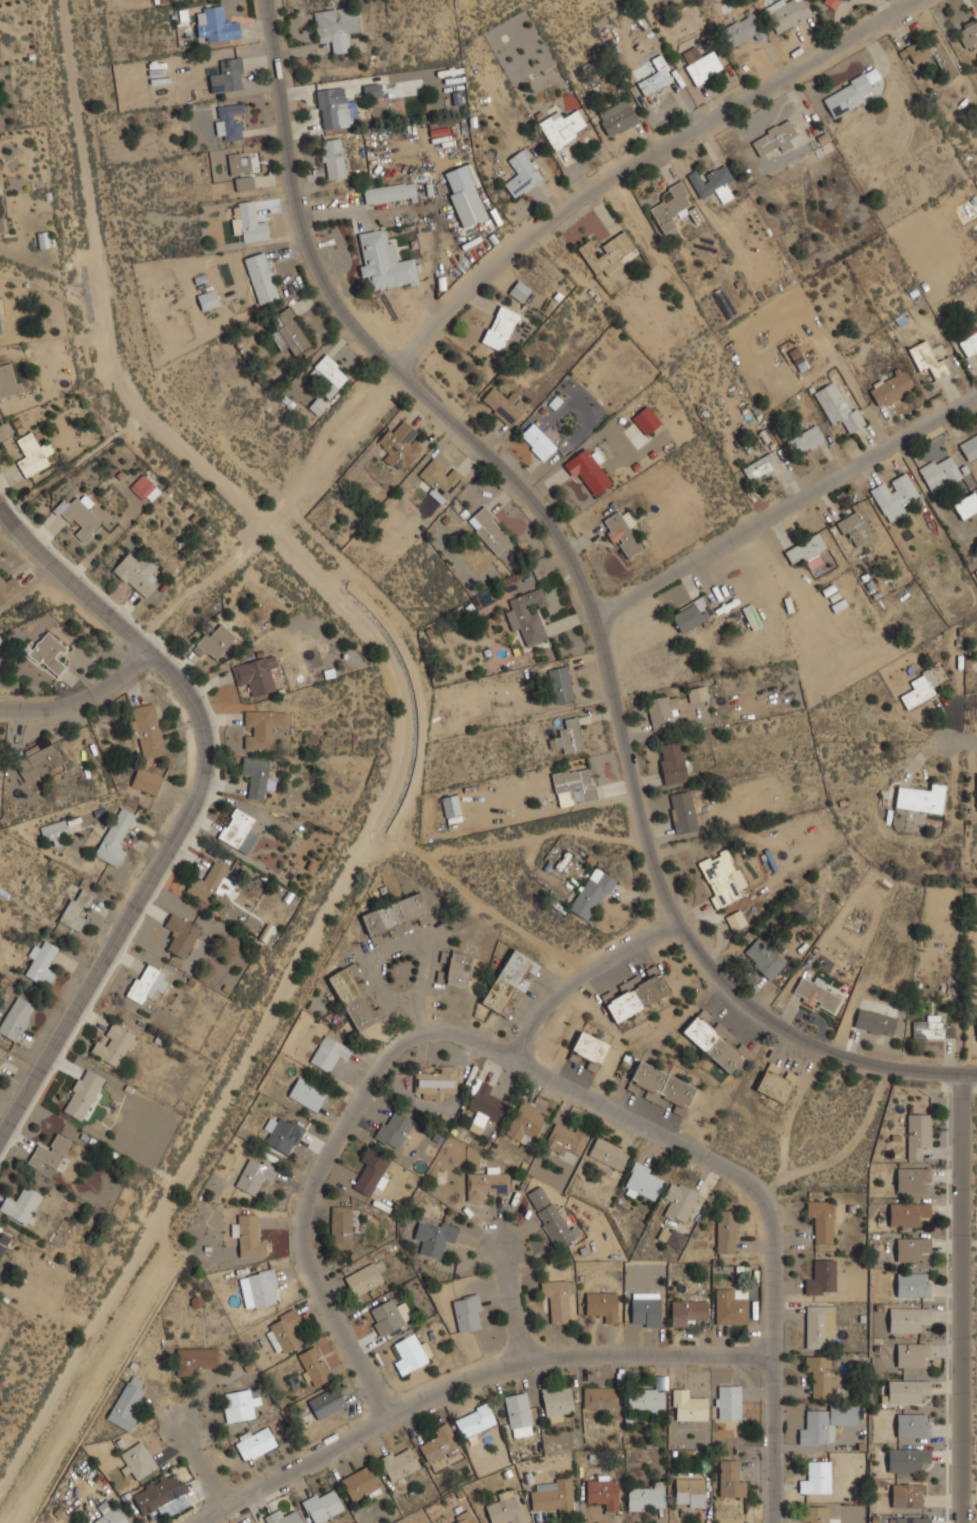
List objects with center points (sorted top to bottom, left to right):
building: (832, 3)
building: (789, 14)
building: (217, 24)
building: (339, 27)
building: (742, 30)
building: (968, 33)
building: (931, 53)
building: (704, 67)
building: (228, 76)
building: (656, 77)
building: (372, 90)
building: (852, 93)
building: (336, 108)
building: (618, 117)
building: (230, 122)
building: (562, 127)
building: (439, 128)
building: (775, 138)
building: (334, 158)
road: (638, 161)
building: (245, 162)
building: (524, 173)
building: (713, 182)
building: (244, 183)
building: (390, 193)
building: (465, 196)
building: (672, 207)
building: (0, 222)
building: (248, 223)
building: (609, 253)
building: (385, 261)
building: (263, 277)
building: (520, 290)
building: (209, 299)
building: (0, 327)
building: (501, 327)
building: (290, 331)
building: (969, 344)
building: (797, 359)
building: (929, 360)
building: (331, 374)
building: (9, 379)
building: (891, 387)
building: (317, 406)
building: (503, 406)
building: (838, 407)
building: (647, 420)
building: (806, 440)
building: (538, 441)
building: (400, 445)
building: (969, 447)
building: (33, 454)
building: (761, 467)
building: (588, 470)
building: (940, 473)
building: (442, 479)
building: (145, 488)
building: (894, 495)
building: (966, 505)
road: (787, 507)
road: (271, 509)
building: (78, 514)
building: (855, 524)
building: (490, 530)
building: (623, 535)
building: (806, 549)
building: (976, 570)
building: (137, 573)
building: (8, 587)
road: (583, 591)
building: (693, 614)
building: (529, 615)
building: (215, 640)
building: (50, 653)
building: (255, 674)
building: (562, 684)
building: (922, 688)
building: (698, 693)
road: (80, 698)
building: (663, 710)
building: (263, 728)
building: (147, 730)
building: (570, 736)
road: (961, 740)
building: (38, 761)
building: (673, 763)
building: (257, 776)
building: (147, 781)
building: (976, 781)
building: (575, 786)
building: (923, 798)
building: (452, 806)
road: (193, 807)
building: (684, 811)
building: (237, 828)
building: (57, 831)
building: (116, 837)
building: (721, 879)
building: (208, 882)
building: (593, 894)
building: (77, 909)
building: (395, 913)
building: (737, 921)
building: (181, 935)
road: (382, 956)
building: (764, 958)
building: (42, 964)
building: (459, 969)
road: (586, 974)
building: (509, 980)
building: (148, 983)
building: (639, 994)
building: (817, 995)
building: (353, 998)
building: (16, 1018)
building: (876, 1022)
building: (933, 1028)
building: (714, 1042)
building: (115, 1044)
road: (402, 1048)
building: (591, 1050)
building: (329, 1052)
building: (1, 1058)
building: (434, 1082)
building: (664, 1084)
building: (774, 1085)
building: (308, 1093)
building: (83, 1094)
building: (483, 1105)
building: (527, 1123)
building: (395, 1127)
building: (918, 1134)
building: (285, 1135)
building: (569, 1139)
building: (51, 1152)
building: (609, 1153)
building: (372, 1171)
building: (256, 1173)
building: (913, 1177)
building: (644, 1182)
building: (487, 1184)
building: (538, 1197)
building: (680, 1201)
building: (21, 1204)
building: (909, 1213)
building: (823, 1220)
building: (555, 1225)
building: (342, 1227)
building: (728, 1233)
building: (672, 1236)
building: (249, 1237)
building: (434, 1237)
building: (912, 1248)
building: (3, 1253)
building: (823, 1278)
building: (365, 1279)
building: (915, 1284)
building: (264, 1288)
road: (962, 1298)
road: (510, 1299)
building: (558, 1299)
building: (603, 1305)
building: (732, 1306)
building: (689, 1310)
building: (646, 1312)
building: (469, 1313)
building: (386, 1317)
building: (909, 1318)
building: (820, 1325)
building: (286, 1332)
building: (412, 1354)
building: (912, 1354)
road: (776, 1357)
building: (195, 1359)
building: (314, 1366)
road: (467, 1372)
building: (822, 1375)
building: (907, 1390)
building: (602, 1397)
building: (648, 1397)
building: (729, 1401)
building: (127, 1403)
building: (327, 1403)
building: (558, 1403)
building: (239, 1405)
building: (689, 1405)
building: (519, 1414)
building: (476, 1420)
building: (826, 1424)
building: (914, 1425)
building: (256, 1442)
building: (442, 1444)
building: (909, 1459)
building: (139, 1460)
road: (201, 1464)
building: (400, 1464)
building: (818, 1478)
building: (731, 1479)
building: (361, 1484)
building: (604, 1490)
building: (690, 1492)
building: (160, 1495)
building: (554, 1495)
building: (909, 1495)
building: (648, 1497)
building: (323, 1505)
building: (507, 1508)
building: (819, 1514)
building: (113, 1515)
building: (283, 1517)
building: (467, 1519)
building: (911, 1519)

